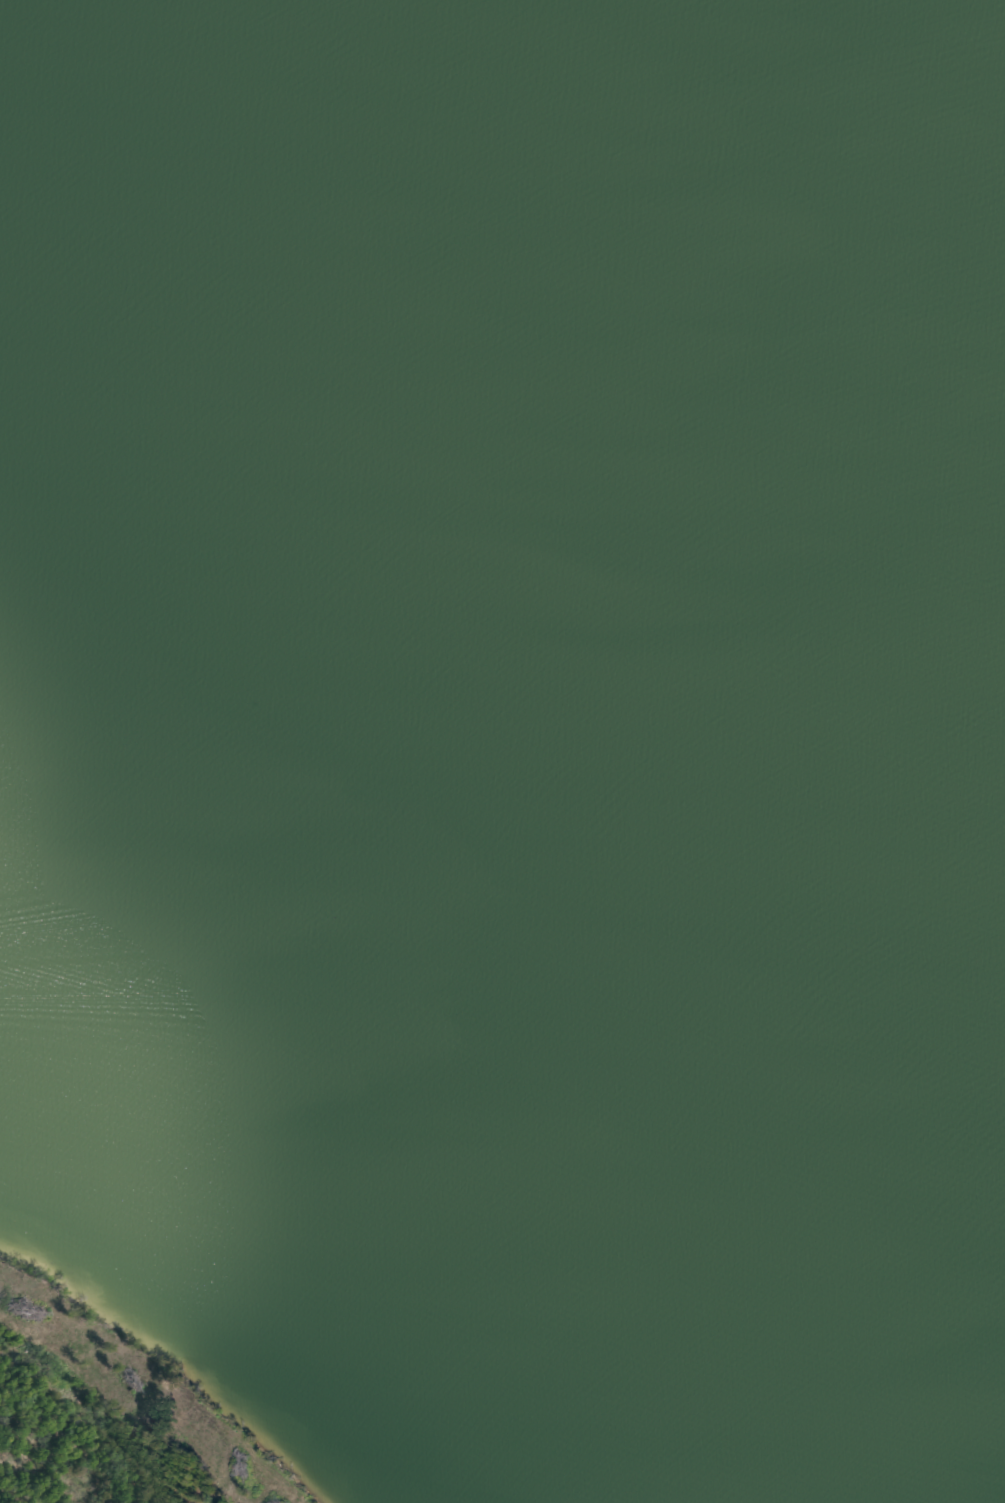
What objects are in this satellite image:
road: (98, 1417)

